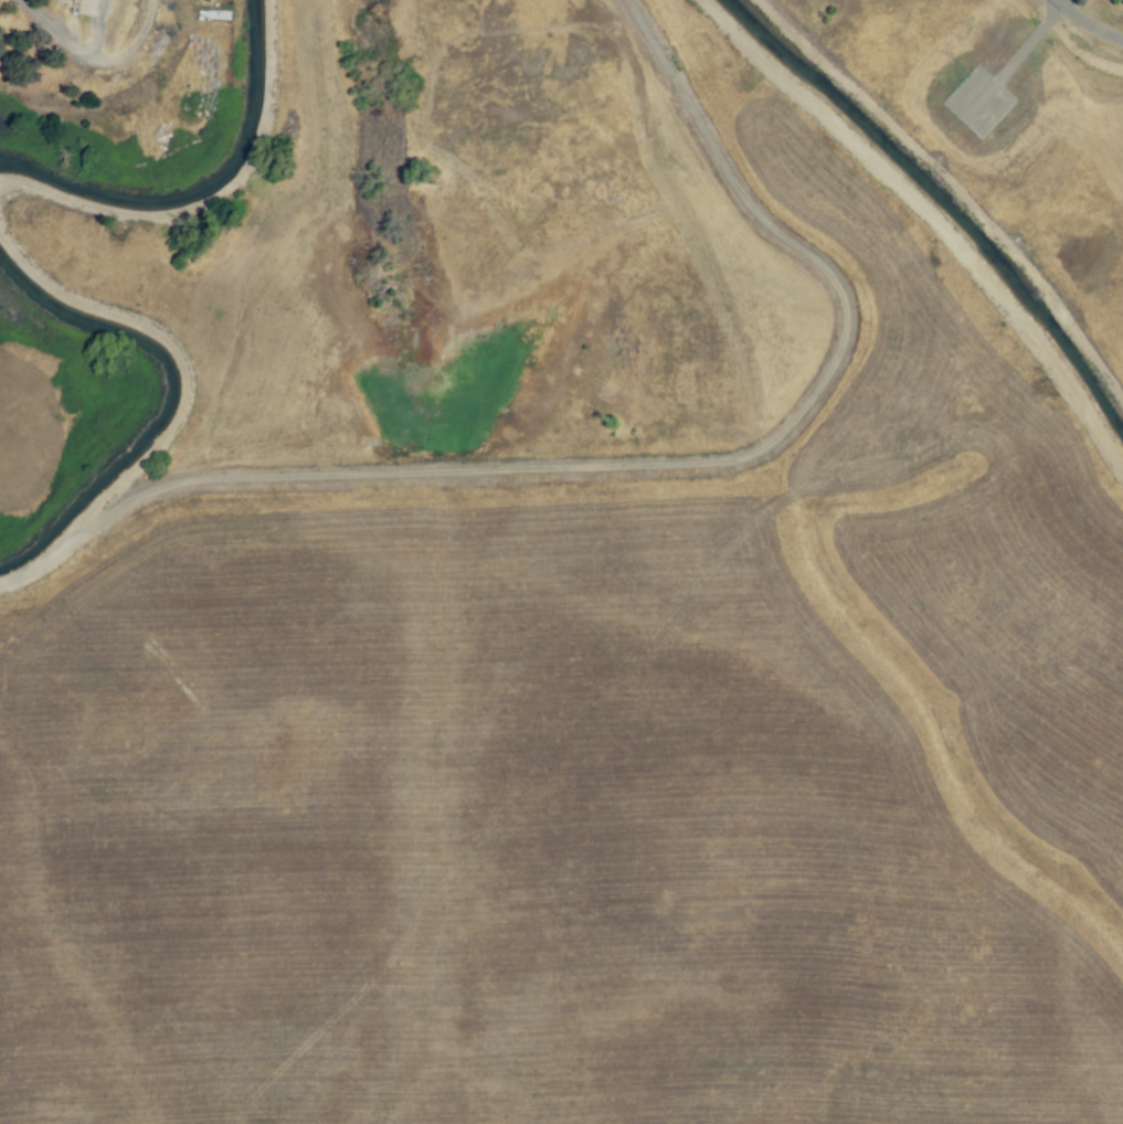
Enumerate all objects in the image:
building: (84, 7)
road: (1088, 22)
road: (99, 32)
road: (1015, 59)
road: (94, 60)

